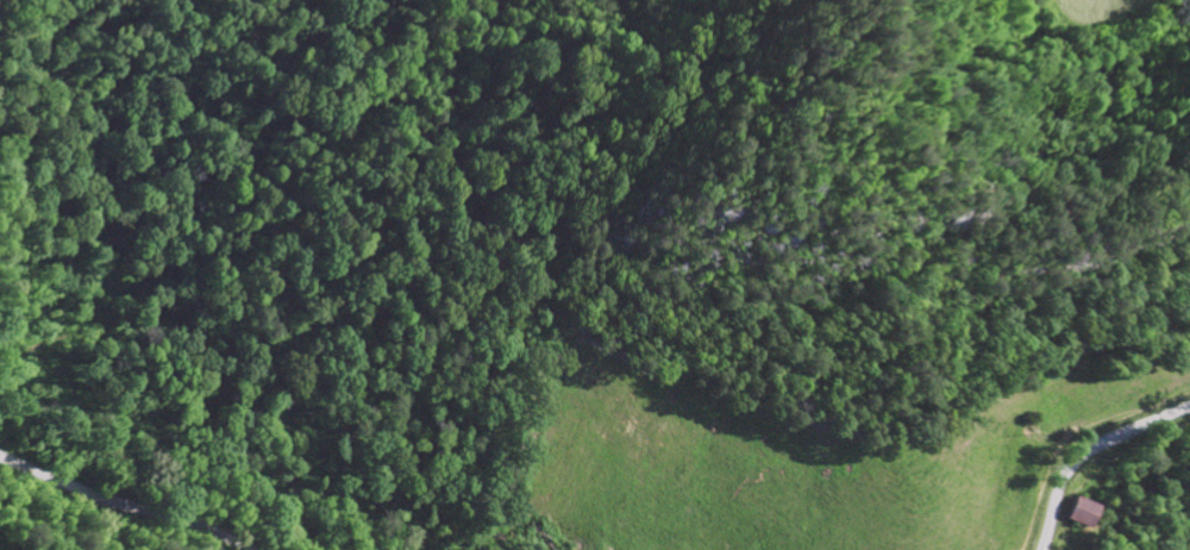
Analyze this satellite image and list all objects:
road: (1089, 451)
road: (118, 507)
building: (1077, 513)

